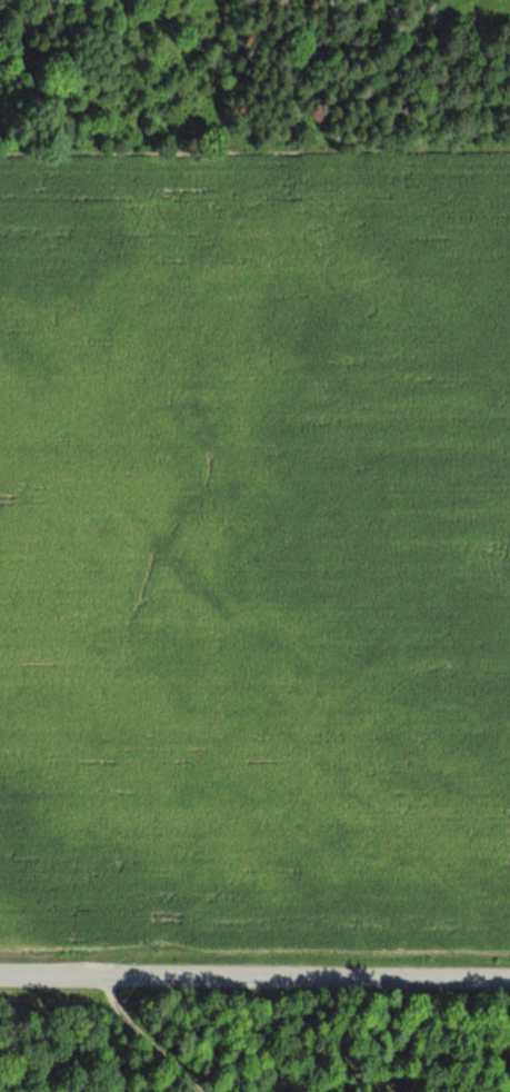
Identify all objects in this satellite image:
road: (254, 974)
road: (138, 1038)

